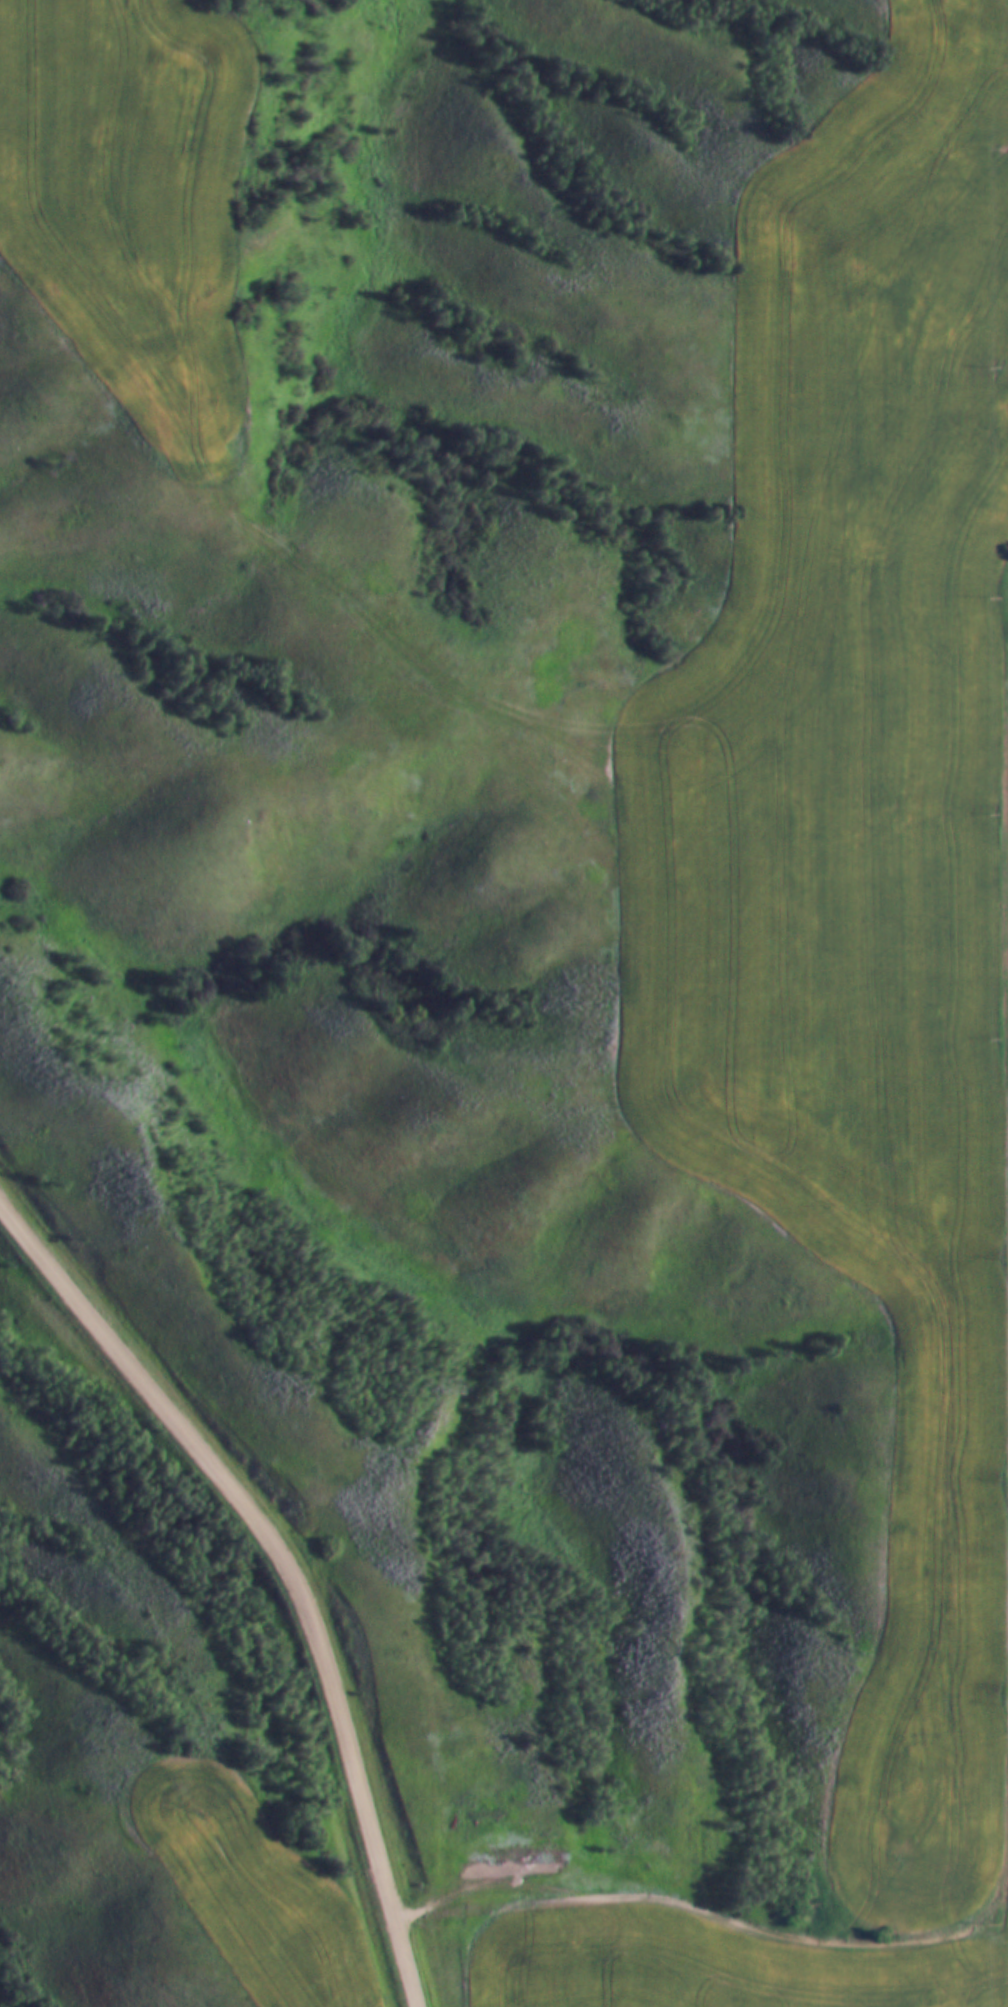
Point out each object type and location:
road: (1006, 1069)
road: (288, 1566)
road: (717, 1913)

